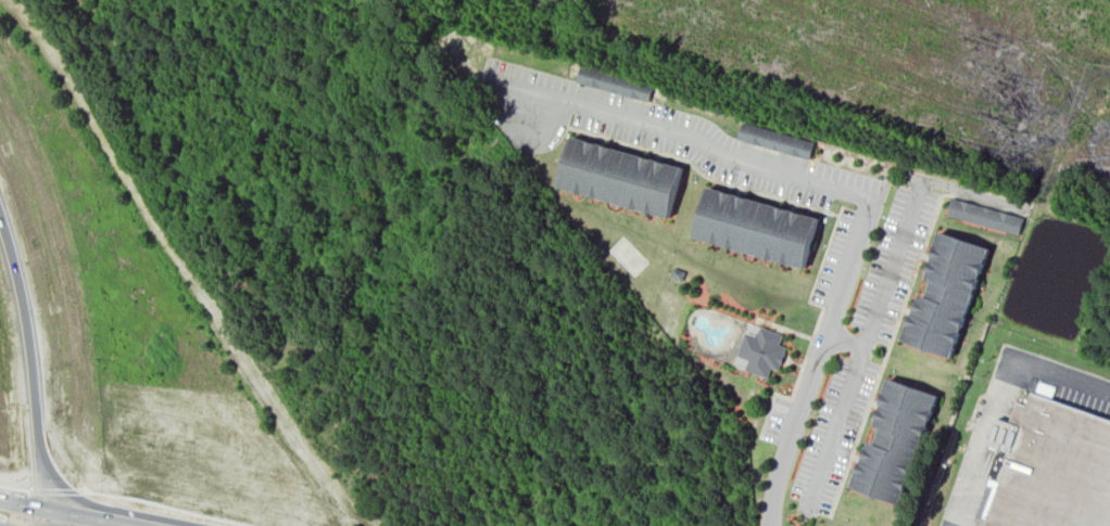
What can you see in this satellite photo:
building: (615, 78)
building: (778, 136)
building: (625, 176)
road: (865, 188)
building: (987, 211)
building: (761, 226)
road: (882, 282)
building: (950, 295)
road: (841, 337)
building: (762, 350)
road: (31, 360)
building: (893, 437)
building: (1052, 469)
road: (14, 486)
road: (53, 489)
road: (22, 505)
road: (165, 505)
traffic signals: (79, 516)
road: (42, 517)
road: (88, 517)

